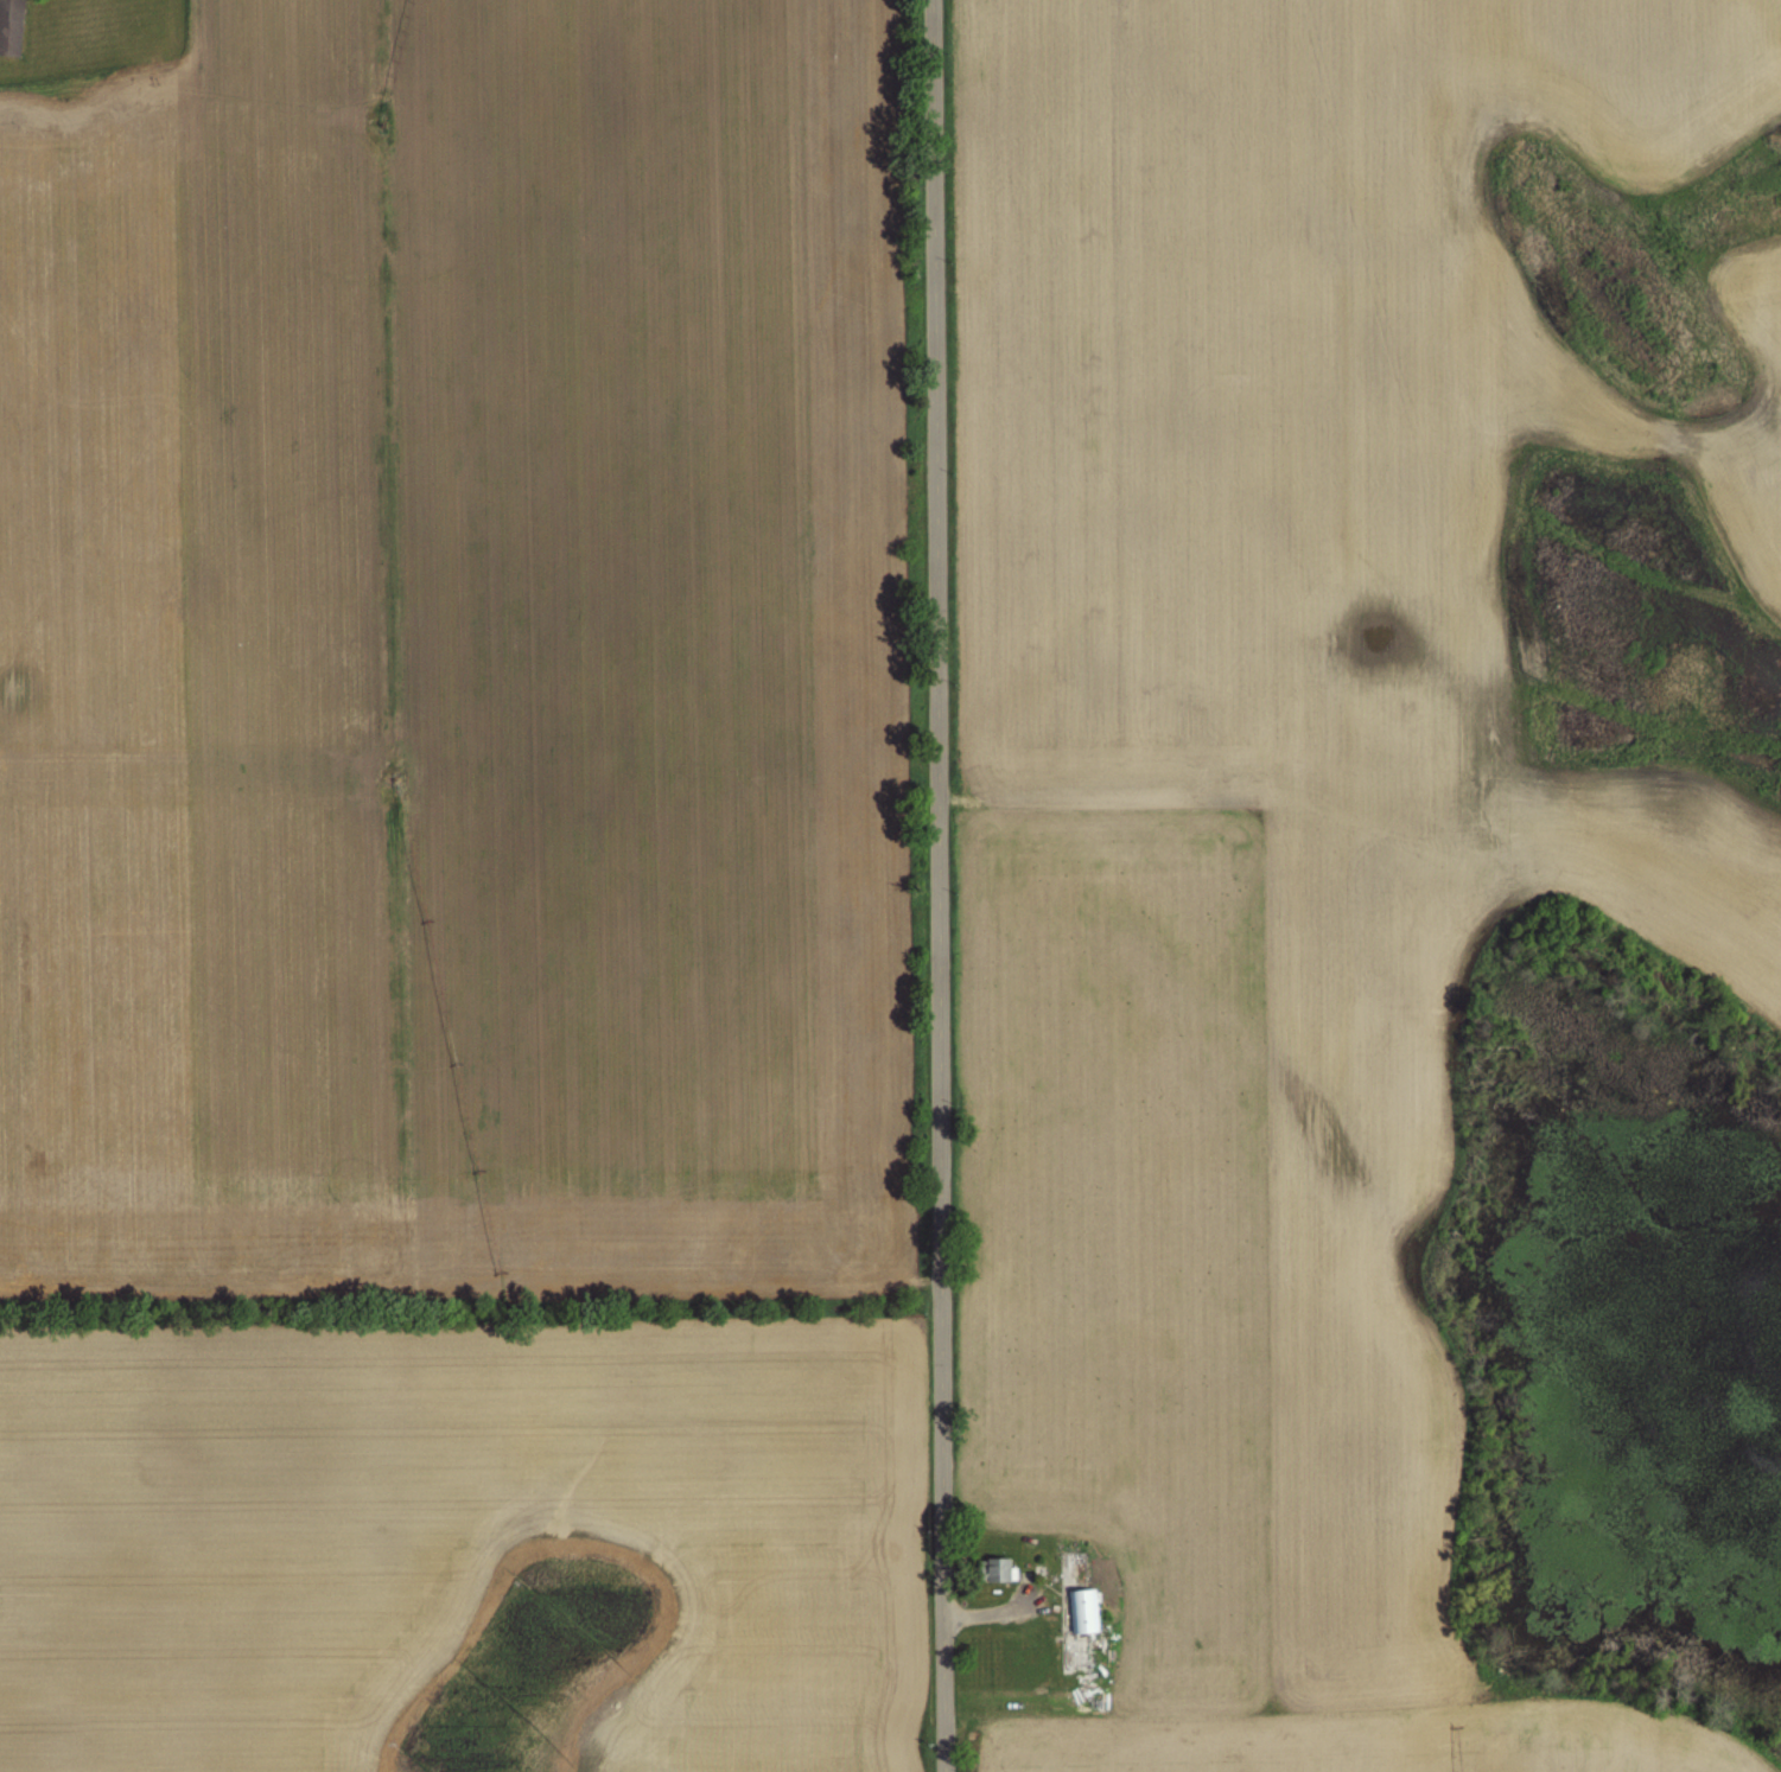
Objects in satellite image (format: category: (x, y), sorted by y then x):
building: (12, 27)
road: (928, 886)
building: (998, 1570)
building: (1073, 1613)

